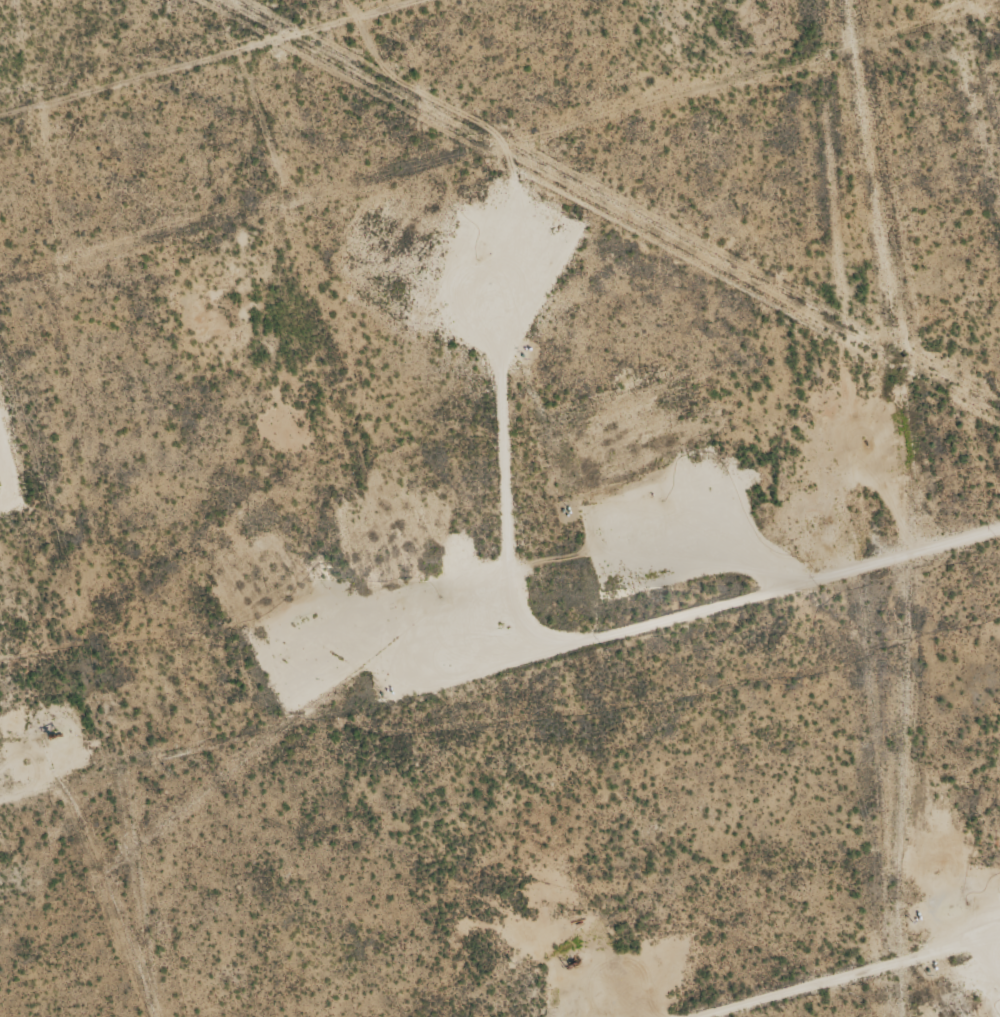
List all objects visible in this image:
road: (896, 987)

